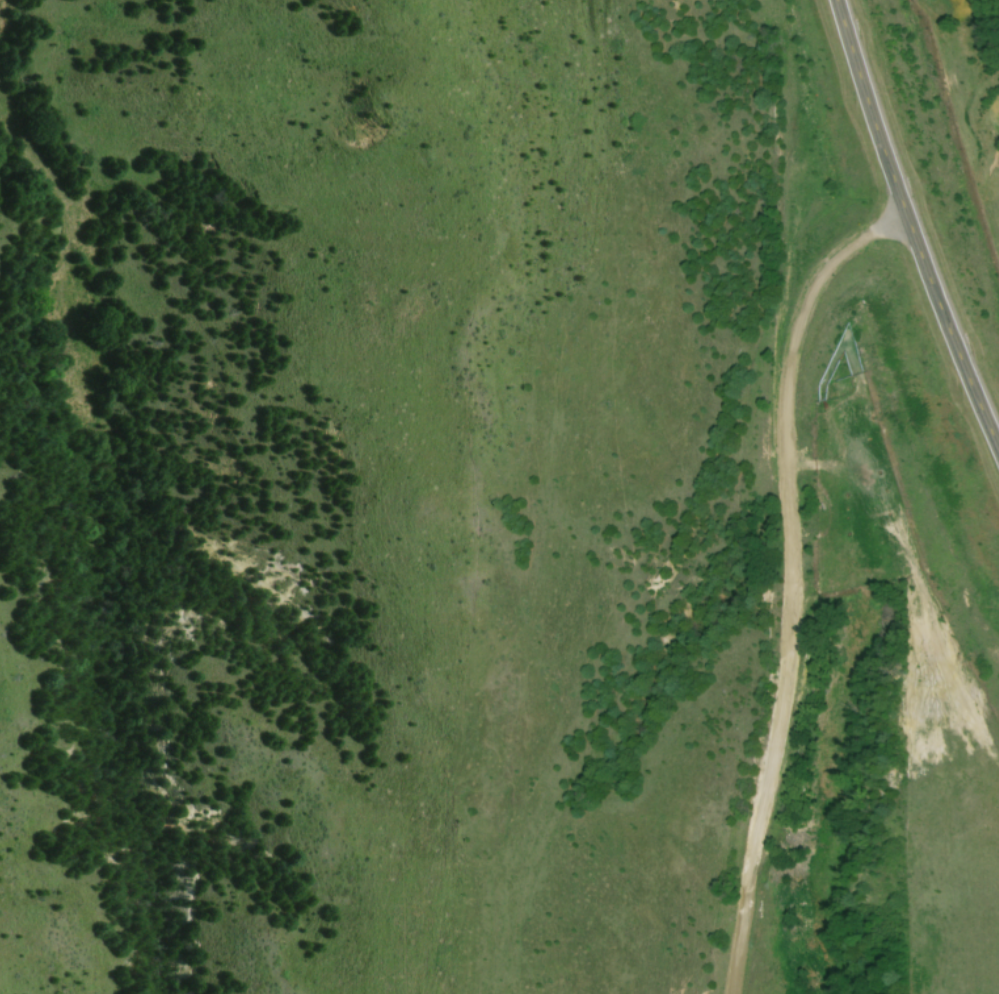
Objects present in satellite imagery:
road: (913, 227)
road: (791, 579)

